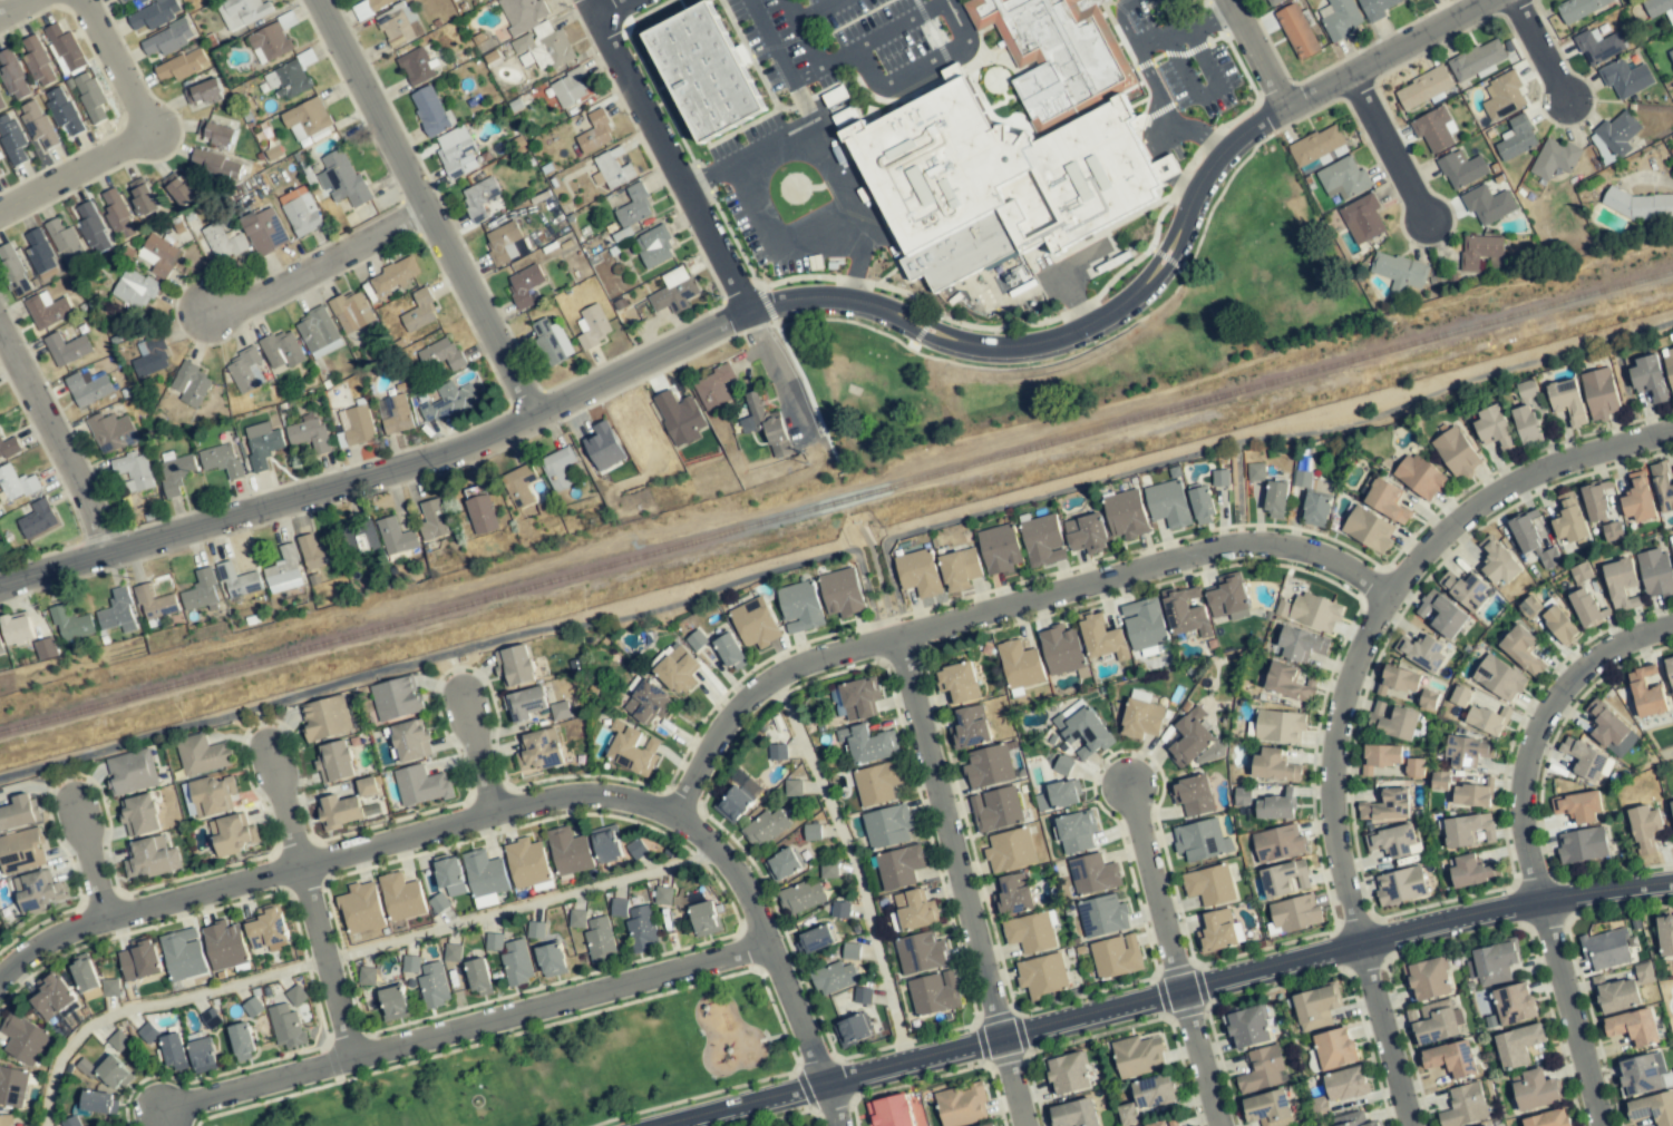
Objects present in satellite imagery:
building: (140, 0)
building: (1408, 0)
building: (124, 1)
building: (1272, 1)
building: (377, 3)
road: (12, 6)
road: (605, 6)
building: (1374, 8)
building: (1577, 8)
building: (1659, 8)
building: (362, 9)
building: (242, 11)
building: (154, 13)
building: (1340, 19)
building: (399, 27)
building: (1296, 31)
building: (1672, 32)
building: (535, 33)
building: (168, 39)
parking lot: (855, 39)
building: (272, 41)
building: (1597, 46)
building: (64, 48)
road: (1541, 51)
building: (33, 52)
road: (1255, 52)
road: (1389, 55)
building: (1671, 55)
building: (703, 57)
building: (1477, 60)
building: (182, 65)
building: (416, 67)
road: (1145, 70)
building: (12, 75)
building: (292, 78)
building: (1625, 78)
road: (797, 80)
building: (568, 88)
building: (1422, 88)
building: (204, 92)
building: (89, 97)
building: (1502, 97)
building: (62, 110)
building: (430, 110)
building: (307, 118)
building: (37, 125)
building: (1434, 129)
building: (595, 133)
building: (215, 134)
building: (1618, 134)
building: (1516, 138)
building: (12, 139)
road: (140, 139)
road: (824, 147)
building: (1316, 147)
road: (1391, 150)
building: (456, 151)
building: (1554, 158)
building: (1008, 160)
building: (214, 165)
building: (612, 169)
building: (1461, 169)
building: (0, 173)
building: (1343, 178)
building: (342, 179)
road: (1651, 179)
helipad: (794, 188)
building: (178, 189)
building: (142, 196)
building: (479, 197)
building: (1488, 204)
building: (1638, 205)
road: (428, 206)
building: (632, 207)
building: (300, 212)
building: (118, 215)
road: (703, 216)
building: (1362, 219)
building: (93, 228)
building: (263, 231)
building: (220, 242)
building: (502, 242)
building: (65, 243)
building: (653, 246)
building: (39, 251)
building: (1480, 251)
building: (158, 255)
road: (321, 266)
building: (13, 270)
building: (1399, 272)
building: (395, 275)
building: (525, 286)
building: (134, 288)
building: (673, 291)
park: (1262, 296)
building: (418, 310)
building: (47, 311)
building: (351, 312)
building: (592, 324)
road: (1066, 329)
building: (318, 332)
building: (552, 341)
building: (66, 349)
building: (281, 350)
building: (441, 354)
building: (150, 358)
building: (1669, 366)
building: (245, 370)
building: (1648, 379)
building: (189, 383)
building: (712, 388)
building: (88, 389)
building: (1599, 393)
building: (1566, 401)
building: (448, 402)
building: (395, 413)
building: (679, 418)
building: (1525, 423)
building: (357, 424)
building: (766, 424)
building: (1494, 429)
building: (111, 432)
building: (308, 433)
road: (57, 438)
building: (262, 443)
building: (8, 447)
building: (603, 447)
building: (1456, 453)
road: (823, 454)
building: (221, 460)
building: (557, 468)
road: (386, 470)
building: (133, 471)
building: (1255, 471)
building: (175, 473)
building: (1420, 477)
building: (1302, 479)
building: (16, 483)
building: (523, 484)
building: (1662, 487)
road: (1238, 492)
building: (1637, 498)
building: (1275, 500)
building: (1385, 500)
building: (1596, 500)
railway: (836, 502)
building: (1168, 503)
building: (1202, 506)
building: (1316, 510)
building: (1125, 513)
building: (480, 515)
building: (431, 518)
building: (37, 519)
building: (1568, 519)
building: (1368, 530)
building: (1086, 533)
building: (1526, 535)
building: (393, 536)
building: (363, 539)
building: (1042, 540)
building: (1672, 548)
building: (999, 549)
building: (315, 552)
building: (1549, 557)
building: (1498, 562)
road: (873, 566)
building: (959, 569)
building: (282, 571)
building: (918, 572)
building: (1580, 572)
building: (1655, 572)
building: (236, 580)
building: (1618, 582)
building: (1465, 590)
building: (200, 591)
building: (842, 591)
road: (867, 598)
building: (1228, 598)
building: (154, 603)
road: (999, 606)
building: (1530, 606)
building: (799, 607)
building: (1586, 607)
road: (1385, 608)
building: (116, 611)
building: (1314, 611)
building: (1185, 613)
building: (1442, 615)
building: (755, 623)
building: (70, 624)
road: (891, 624)
building: (1145, 625)
building: (1559, 625)
building: (17, 628)
building: (1101, 637)
building: (1301, 644)
building: (0, 645)
building: (43, 647)
building: (729, 650)
building: (1061, 650)
building: (1521, 650)
building: (1421, 653)
building: (1020, 665)
building: (514, 666)
building: (675, 669)
road: (456, 670)
building: (1670, 670)
building: (1499, 678)
building: (1398, 681)
building: (1287, 682)
building: (957, 683)
building: (1645, 693)
building: (395, 699)
building: (858, 699)
building: (1428, 699)
building: (648, 702)
building: (525, 703)
building: (560, 711)
building: (327, 718)
building: (1141, 718)
building: (1487, 719)
building: (1395, 723)
road: (260, 724)
building: (1278, 726)
building: (967, 728)
building: (1609, 730)
building: (1081, 731)
building: (1190, 738)
building: (409, 741)
building: (866, 744)
building: (631, 750)
building: (538, 751)
building: (1467, 751)
road: (478, 752)
building: (778, 752)
building: (203, 754)
building: (1379, 757)
building: (1585, 760)
building: (334, 762)
building: (1062, 765)
building: (989, 766)
building: (1273, 766)
building: (1414, 768)
building: (132, 772)
road: (66, 779)
building: (1440, 782)
building: (877, 783)
building: (420, 785)
building: (367, 786)
building: (794, 787)
building: (212, 795)
building: (1193, 795)
building: (1471, 795)
building: (1057, 796)
building: (733, 804)
building: (1267, 804)
road: (281, 805)
building: (1387, 805)
building: (1671, 805)
building: (1577, 806)
building: (995, 809)
building: (340, 811)
building: (17, 813)
building: (139, 815)
road: (479, 817)
building: (765, 826)
building: (887, 826)
building: (1644, 828)
building: (1467, 830)
building: (811, 832)
building: (1076, 832)
building: (230, 835)
building: (1200, 841)
building: (1393, 841)
road: (1526, 842)
building: (1277, 843)
building: (606, 844)
building: (1582, 845)
building: (636, 849)
building: (20, 850)
building: (568, 851)
building: (1010, 851)
road: (87, 859)
building: (149, 859)
building: (527, 864)
building: (782, 864)
road: (854, 865)
building: (898, 866)
building: (828, 870)
building: (1469, 871)
building: (449, 874)
building: (485, 874)
building: (1092, 874)
building: (1284, 878)
road: (959, 881)
building: (1209, 884)
building: (1400, 885)
building: (36, 890)
road: (1156, 890)
building: (1012, 894)
building: (662, 895)
building: (401, 898)
building: (800, 898)
building: (619, 907)
building: (361, 908)
building: (839, 909)
building: (912, 910)
building: (1295, 913)
building: (1102, 916)
building: (703, 918)
building: (576, 919)
building: (266, 928)
building: (641, 929)
building: (535, 930)
building: (1217, 930)
building: (1030, 932)
building: (1665, 936)
building: (600, 940)
building: (815, 940)
building: (494, 941)
building: (224, 946)
building: (1606, 948)
building: (453, 951)
building: (850, 951)
road: (349, 953)
building: (920, 953)
building: (183, 954)
building: (1116, 957)
building: (552, 959)
building: (138, 960)
road: (324, 962)
building: (516, 962)
building: (410, 963)
building: (1491, 963)
building: (84, 972)
building: (1042, 975)
building: (367, 976)
building: (478, 976)
road: (1246, 977)
building: (834, 978)
building: (1427, 978)
building: (434, 985)
building: (110, 988)
building: (934, 993)
building: (1615, 993)
building: (296, 995)
building: (51, 996)
building: (863, 996)
building: (393, 1002)
building: (1514, 1003)
building: (252, 1007)
building: (1316, 1007)
building: (1432, 1022)
building: (285, 1026)
road: (464, 1026)
building: (1247, 1027)
building: (1633, 1027)
building: (852, 1030)
building: (147, 1032)
road: (1387, 1035)
building: (23, 1039)
building: (118, 1040)
building: (241, 1040)
building: (1517, 1045)
building: (1334, 1049)
building: (173, 1050)
building: (202, 1055)
building: (1137, 1056)
building: (1451, 1058)
road: (1202, 1059)
park: (558, 1065)
building: (1261, 1070)
building: (111, 1073)
building: (1068, 1074)
building: (1638, 1075)
building: (1345, 1084)
building: (12, 1086)
building: (1534, 1089)
building: (1147, 1097)
building: (96, 1101)
road: (740, 1105)
road: (828, 1105)
building: (962, 1105)
building: (1463, 1106)
building: (1267, 1109)
building: (1652, 1110)
building: (889, 1112)
building: (1074, 1114)
road: (165, 1119)
building: (1352, 1119)
building: (1548, 1119)
building: (6, 1120)
building: (70, 1122)
building: (1166, 1123)
building: (990, 1125)
building: (1487, 1125)

